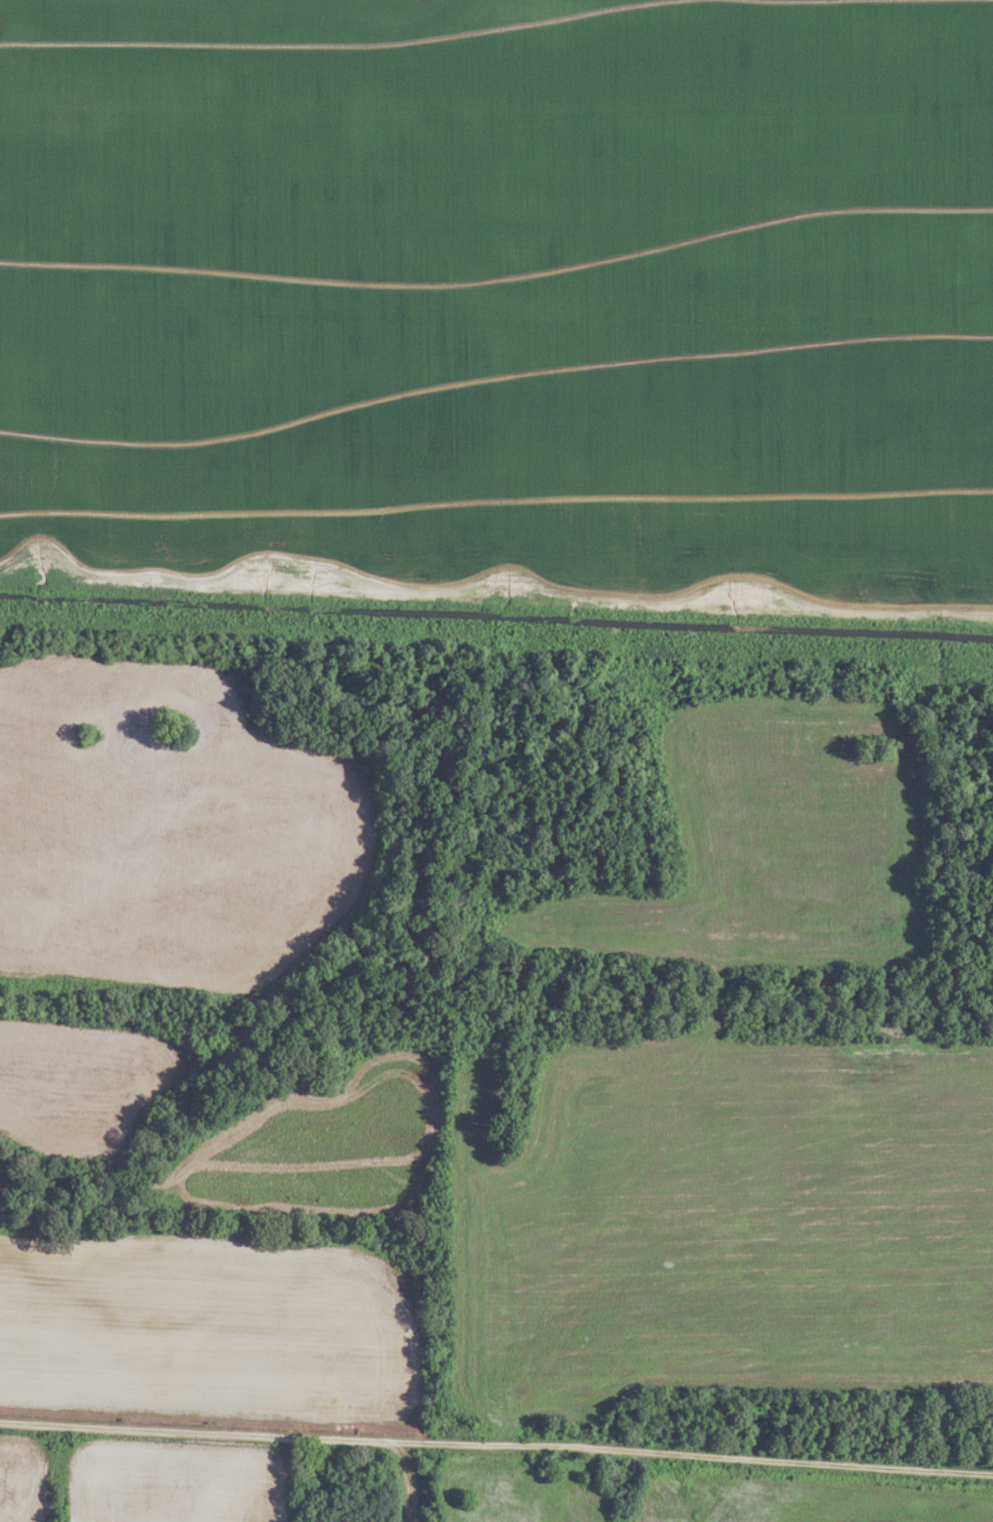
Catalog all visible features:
road: (496, 1446)

